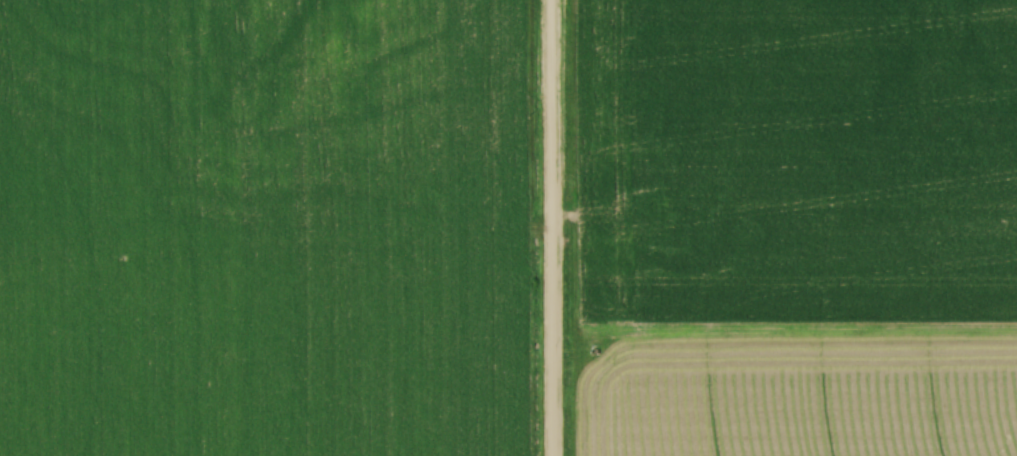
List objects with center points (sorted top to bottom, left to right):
road: (548, 228)

